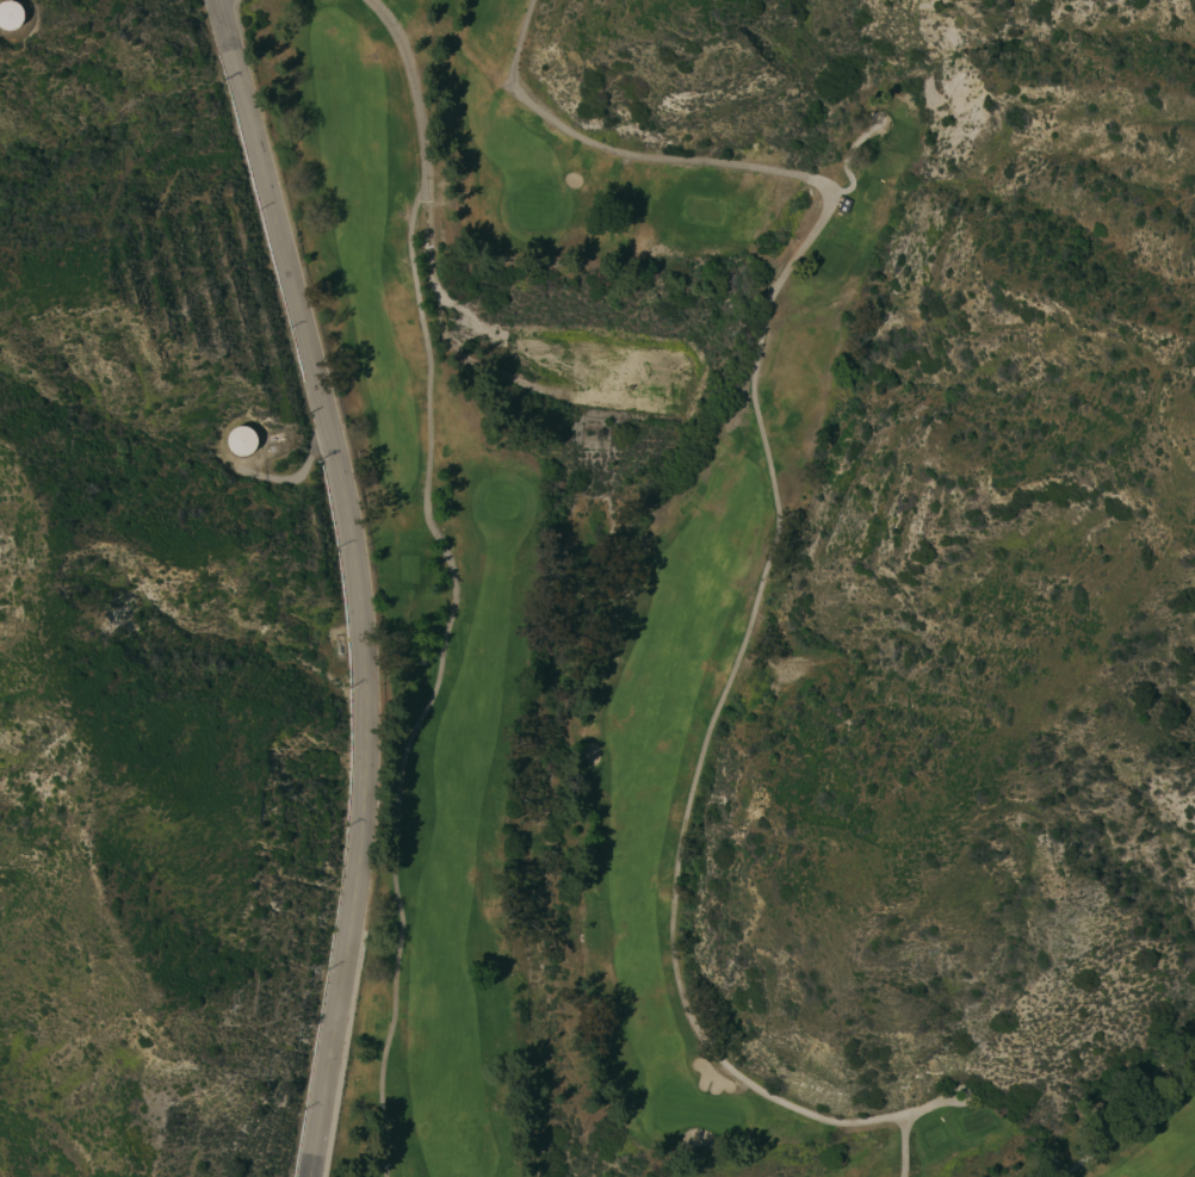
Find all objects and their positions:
building: (10, 14)
storage tank: (10, 14)
road: (31, 36)
building: (241, 438)
storage tank: (241, 438)
road: (295, 478)
road: (774, 539)
road: (355, 582)
road: (453, 583)
park: (596, 605)
road: (1132, 1128)

